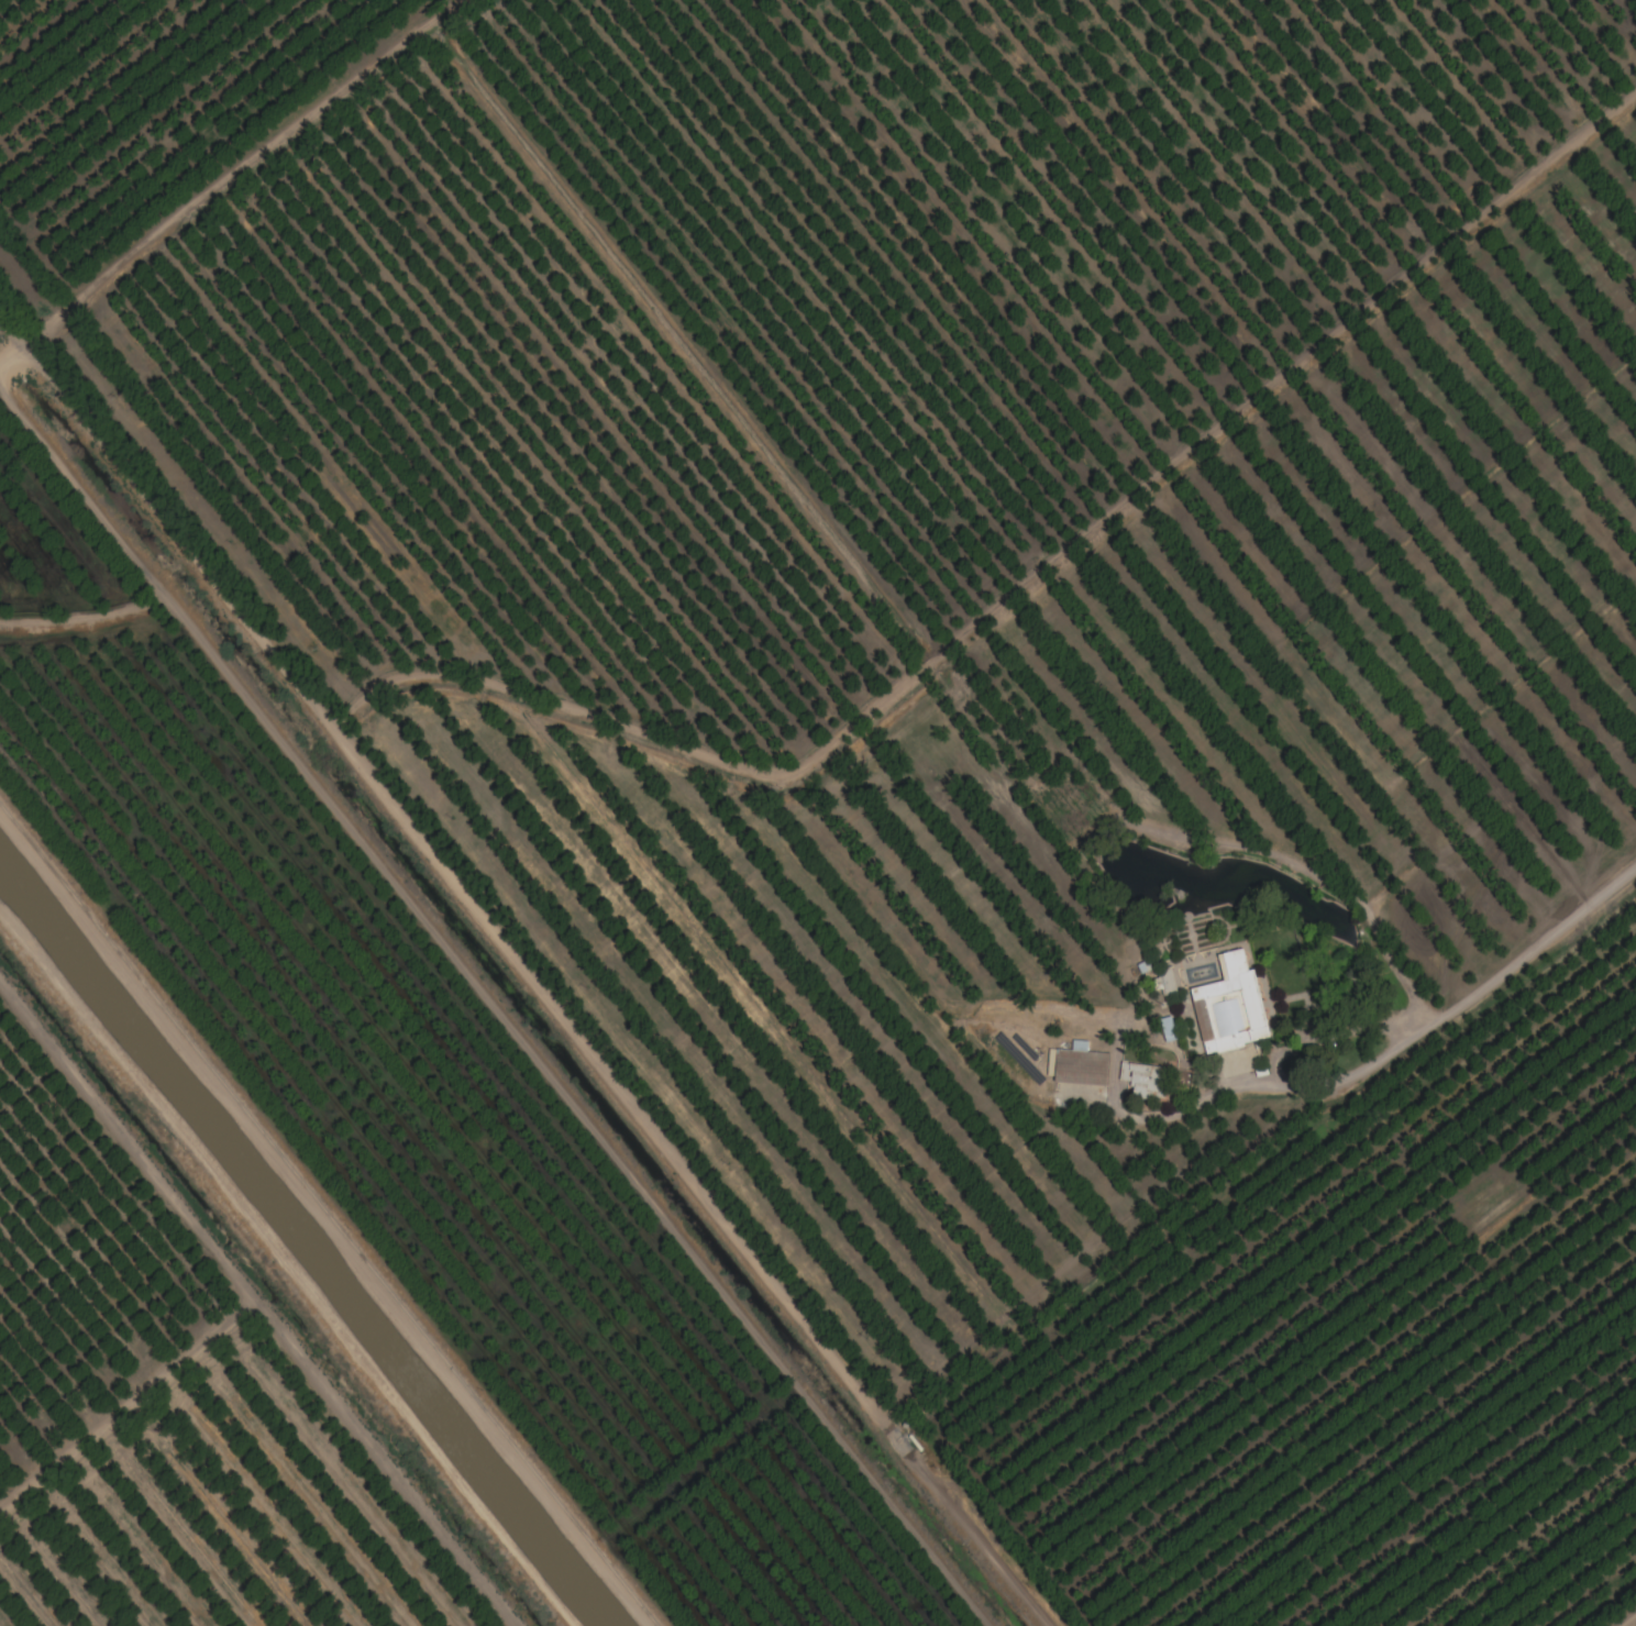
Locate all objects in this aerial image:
building: (1218, 998)
road: (1447, 1017)
building: (1077, 1065)
road: (323, 1220)
road: (284, 1271)
road: (254, 1304)
road: (1632, 1623)

